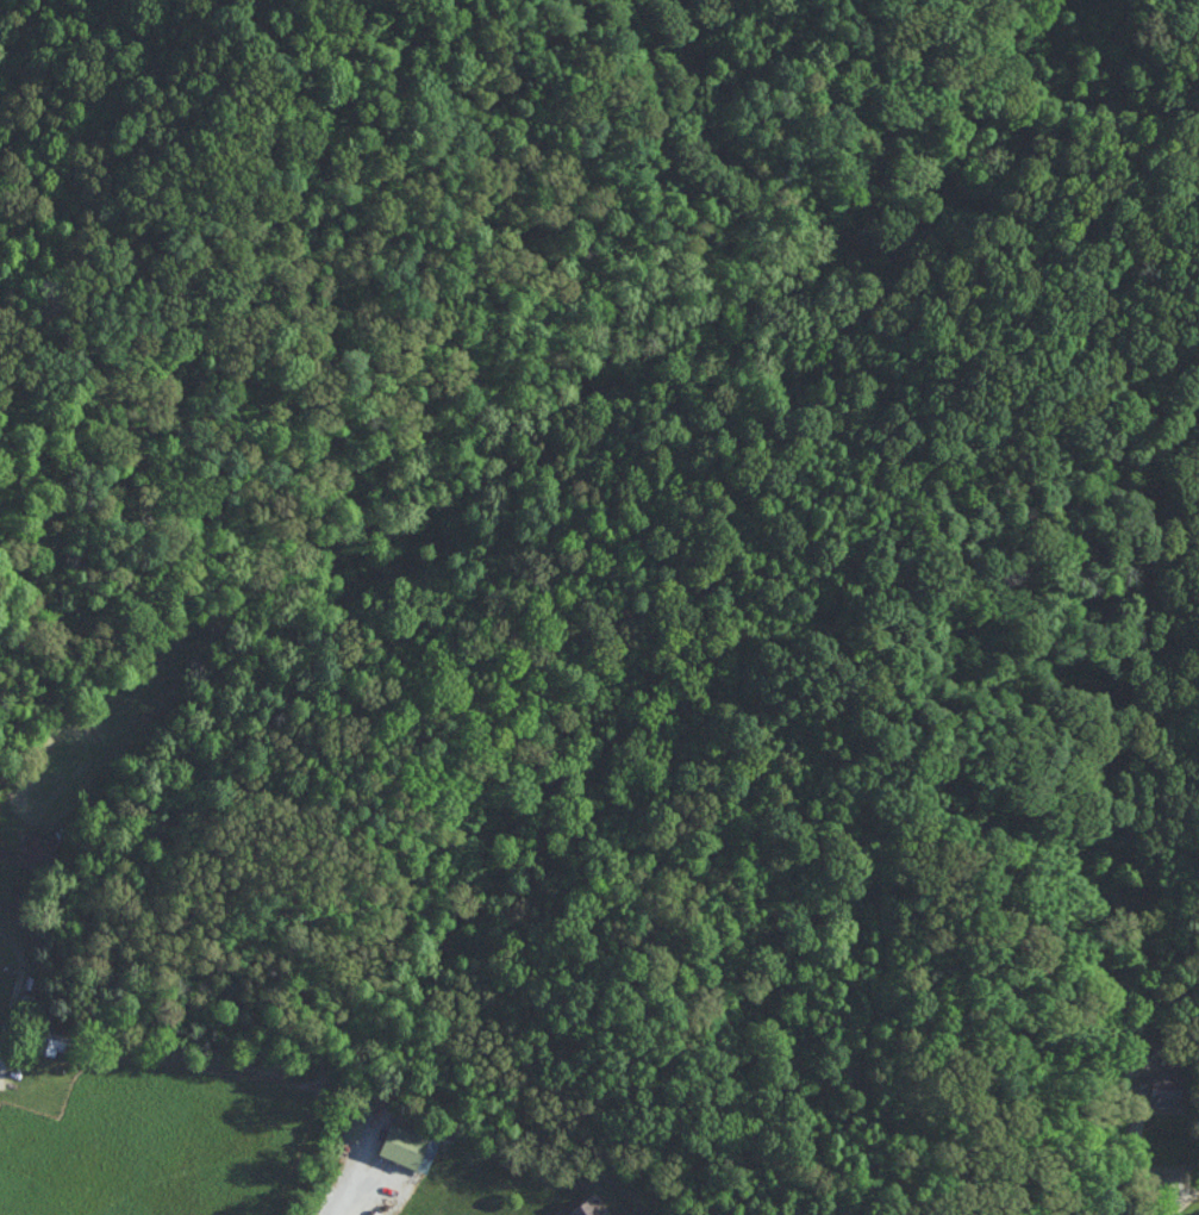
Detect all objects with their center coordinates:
building: (38, 846)
road: (19, 973)
building: (393, 1142)
road: (338, 1186)
road: (1184, 1204)

